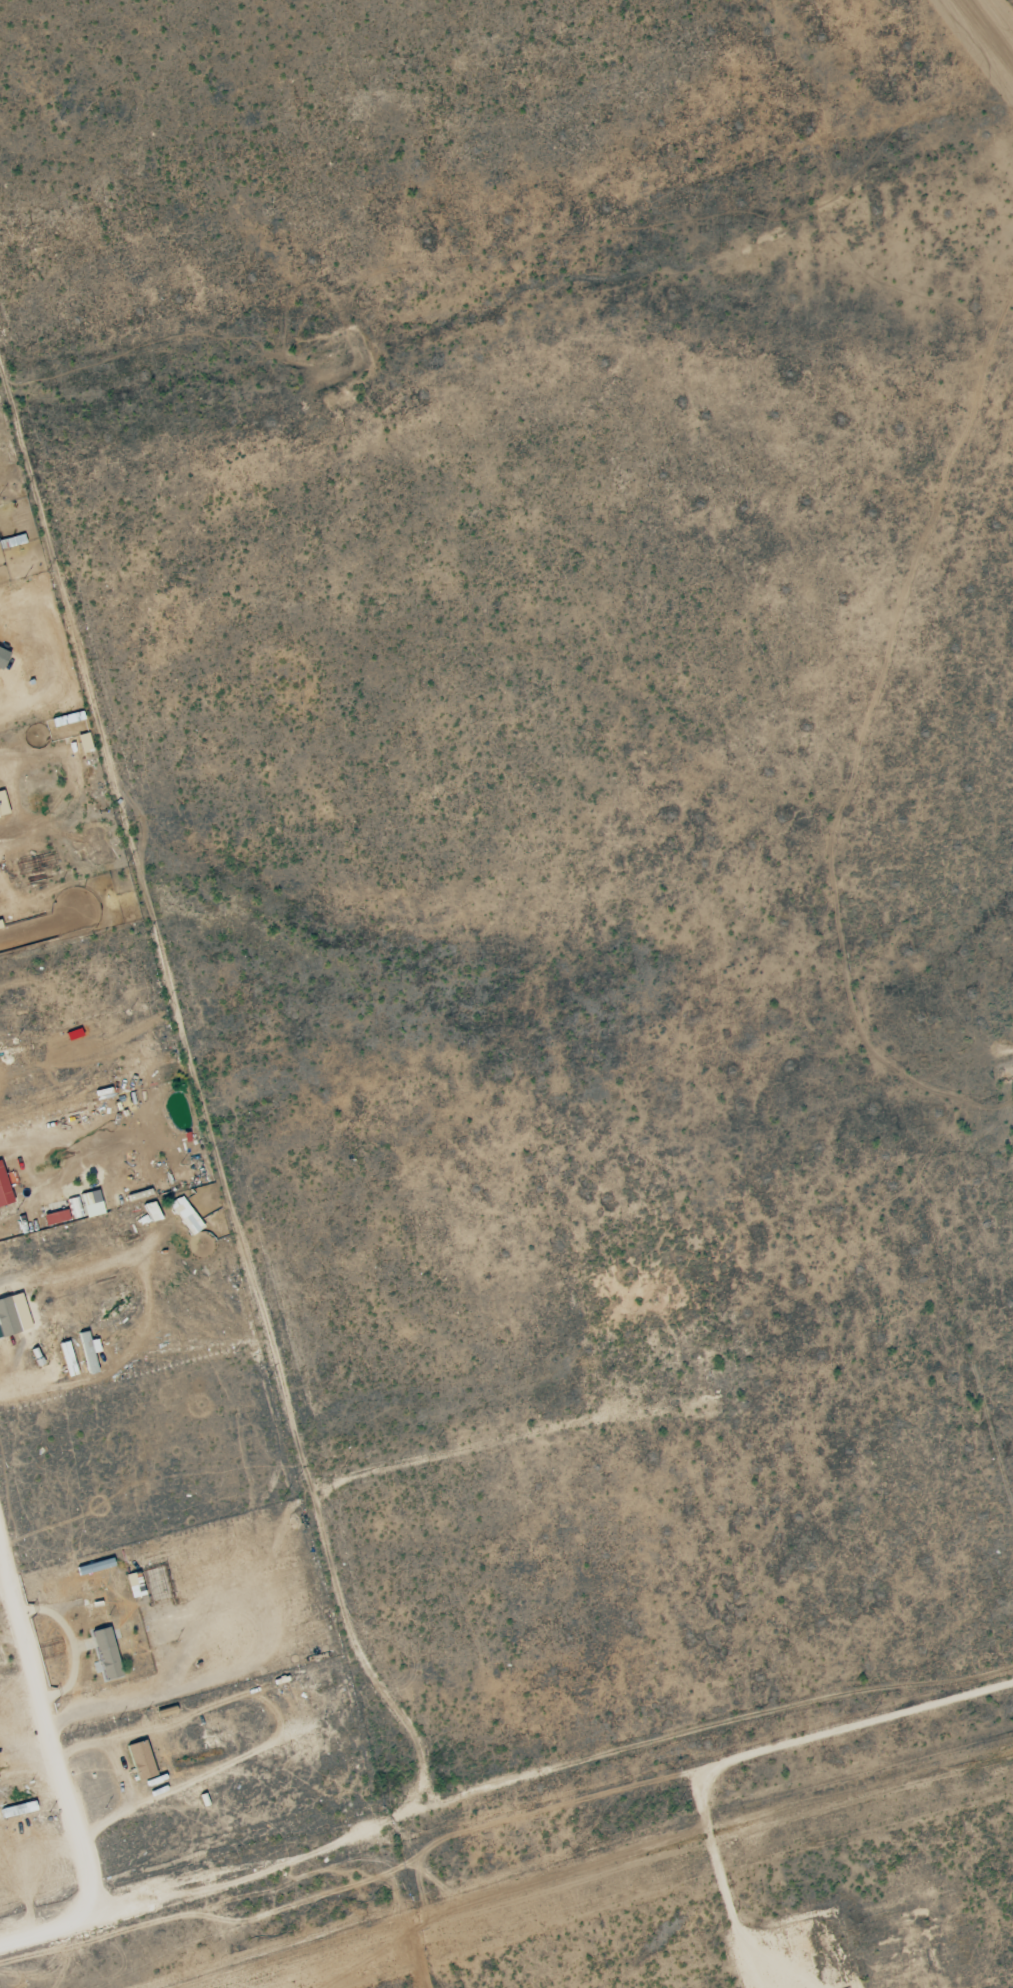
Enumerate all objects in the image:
building: (2, 657)
building: (83, 743)
building: (2, 806)
building: (3, 1192)
building: (90, 1204)
building: (179, 1209)
building: (6, 1319)
building: (133, 1585)
building: (105, 1655)
building: (139, 1761)
road: (468, 1765)
road: (175, 1854)

